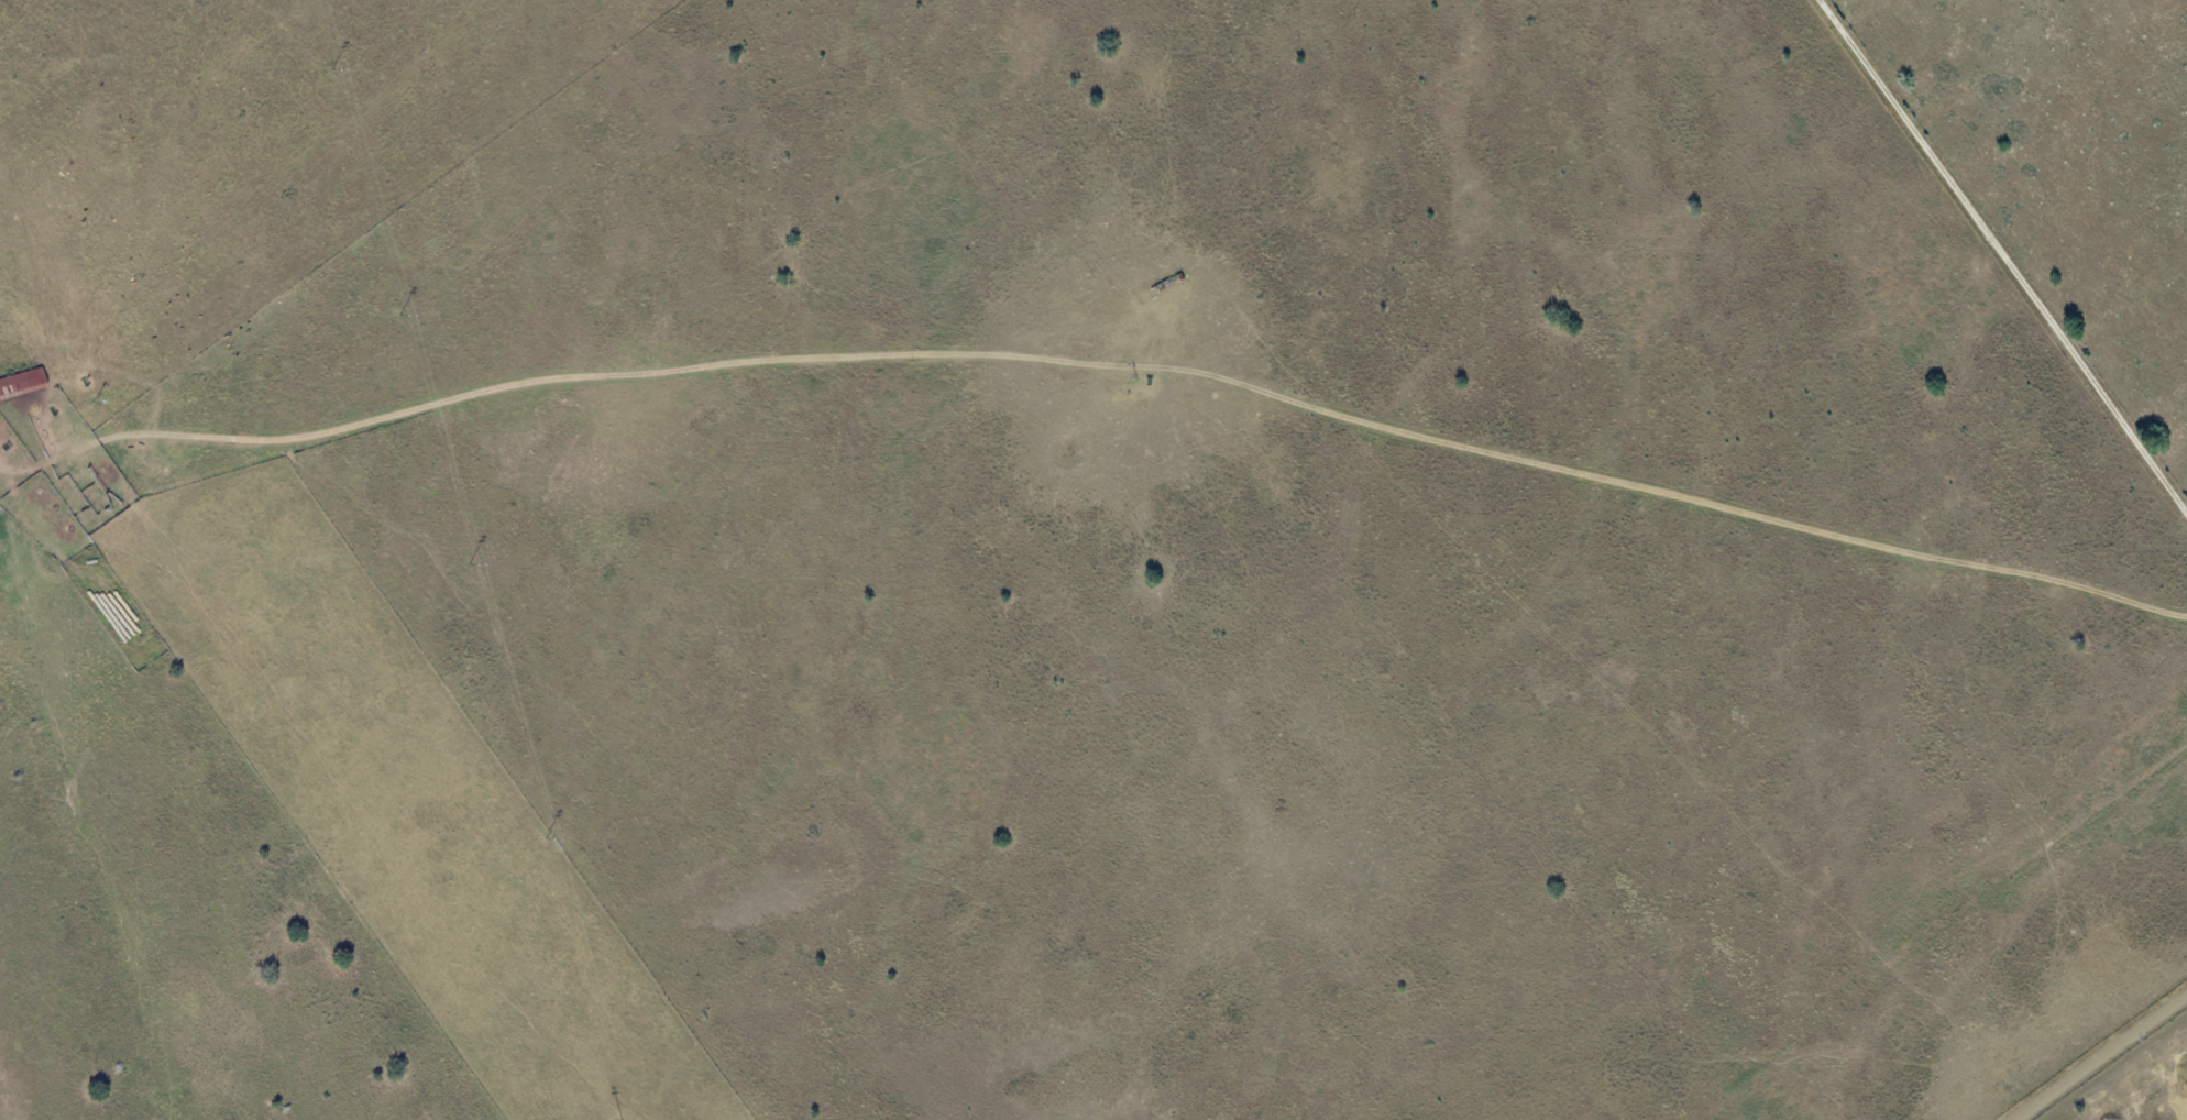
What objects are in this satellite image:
road: (2007, 250)
road: (2100, 1056)

